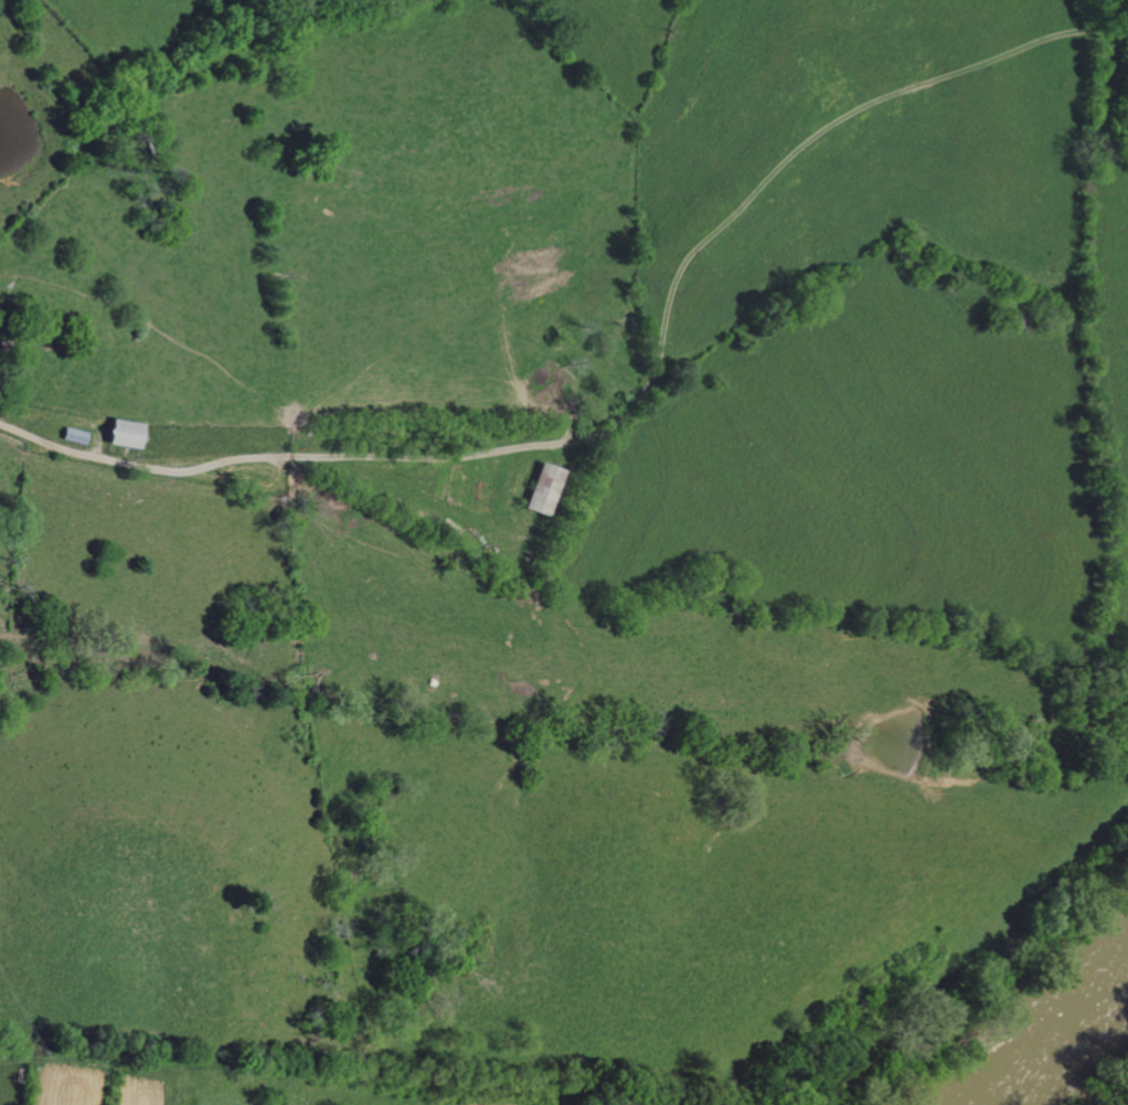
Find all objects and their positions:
road: (637, 400)
building: (123, 432)
building: (542, 488)
river: (1042, 1023)

